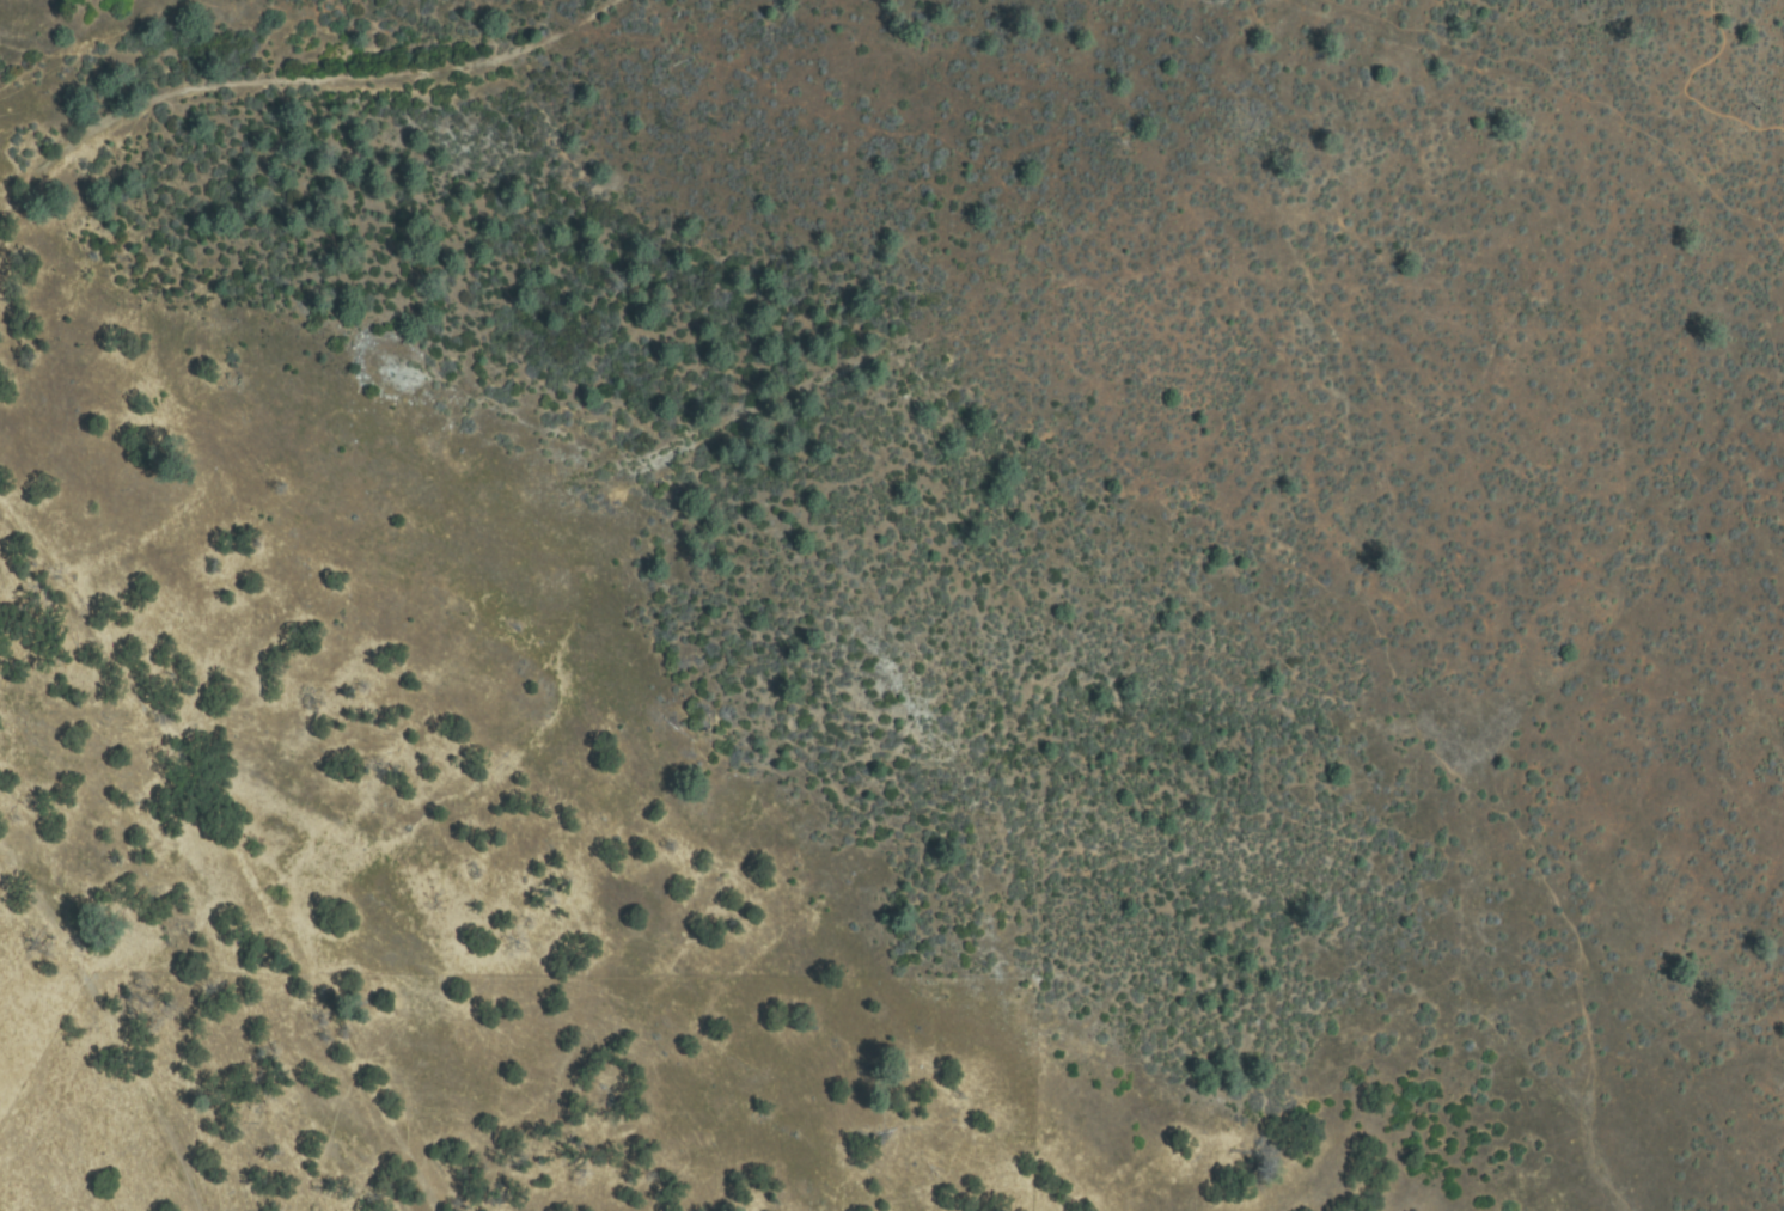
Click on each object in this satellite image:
road: (1690, 90)

